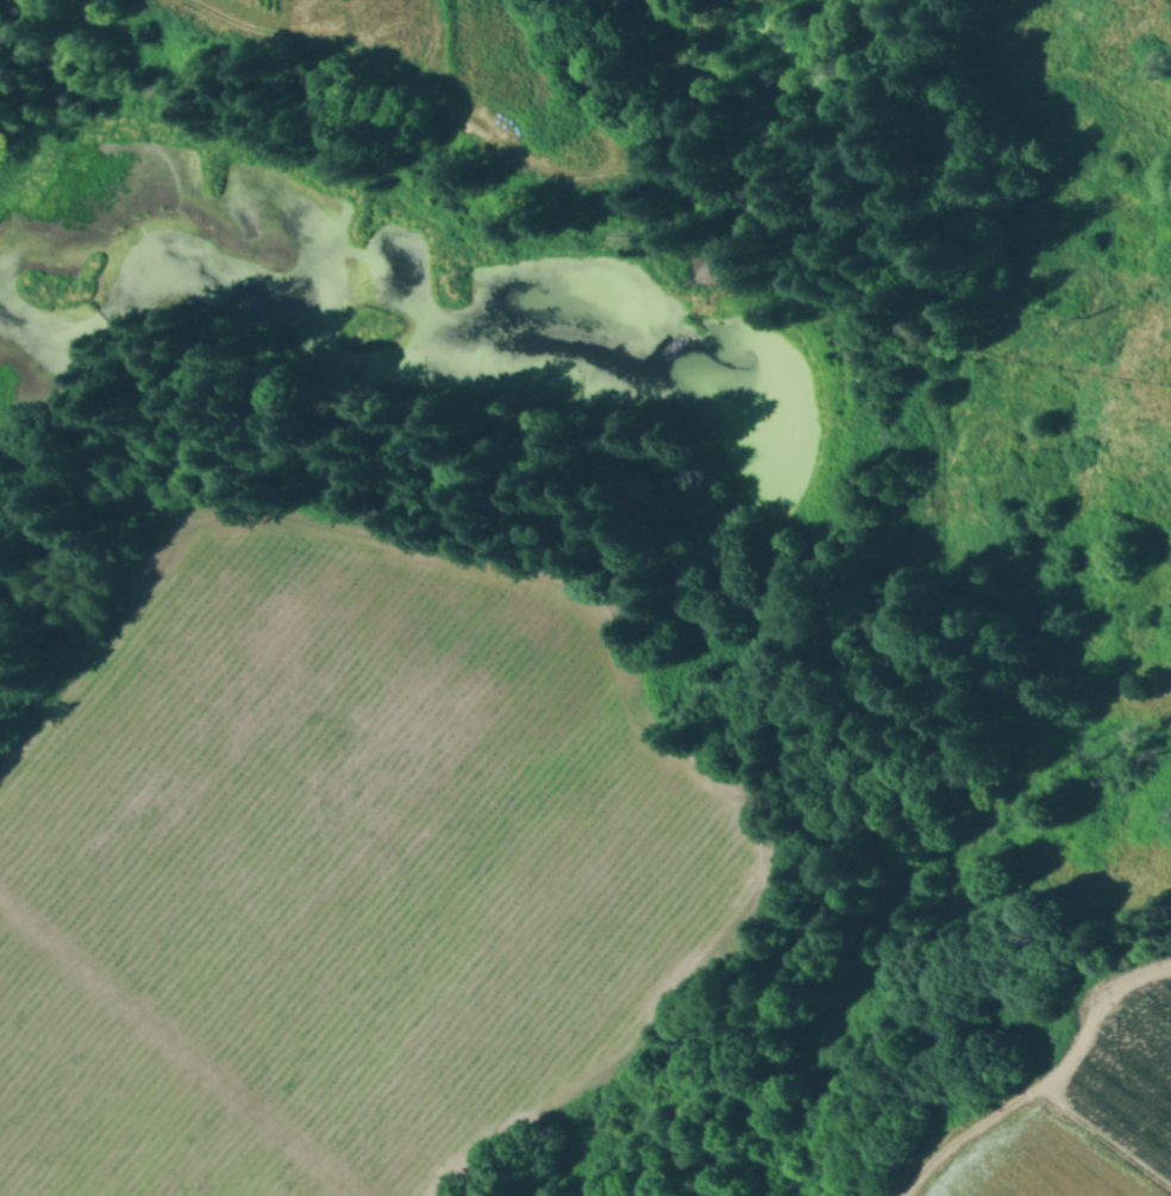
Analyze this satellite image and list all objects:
crop: (405, 57)
crop: (327, 871)
road: (1039, 1082)
crop: (1088, 1107)

